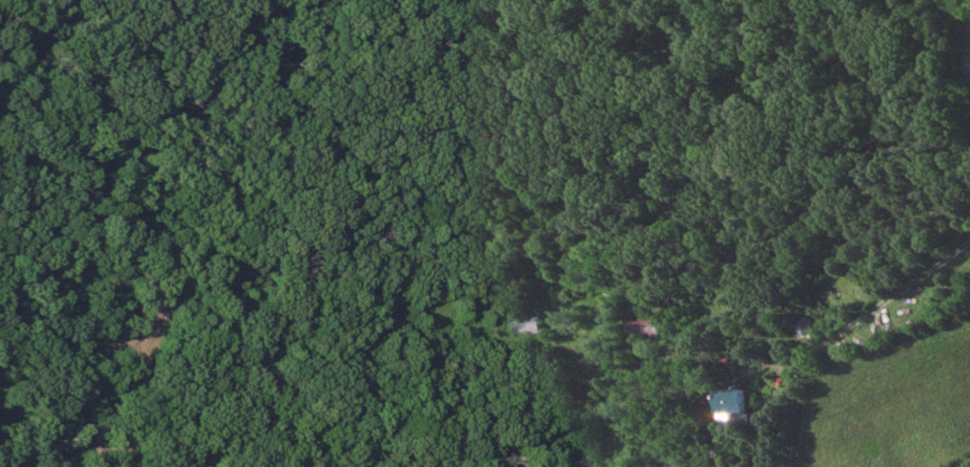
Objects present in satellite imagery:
building: (967, 64)
building: (528, 325)
building: (649, 328)
road: (804, 339)
building: (742, 401)

